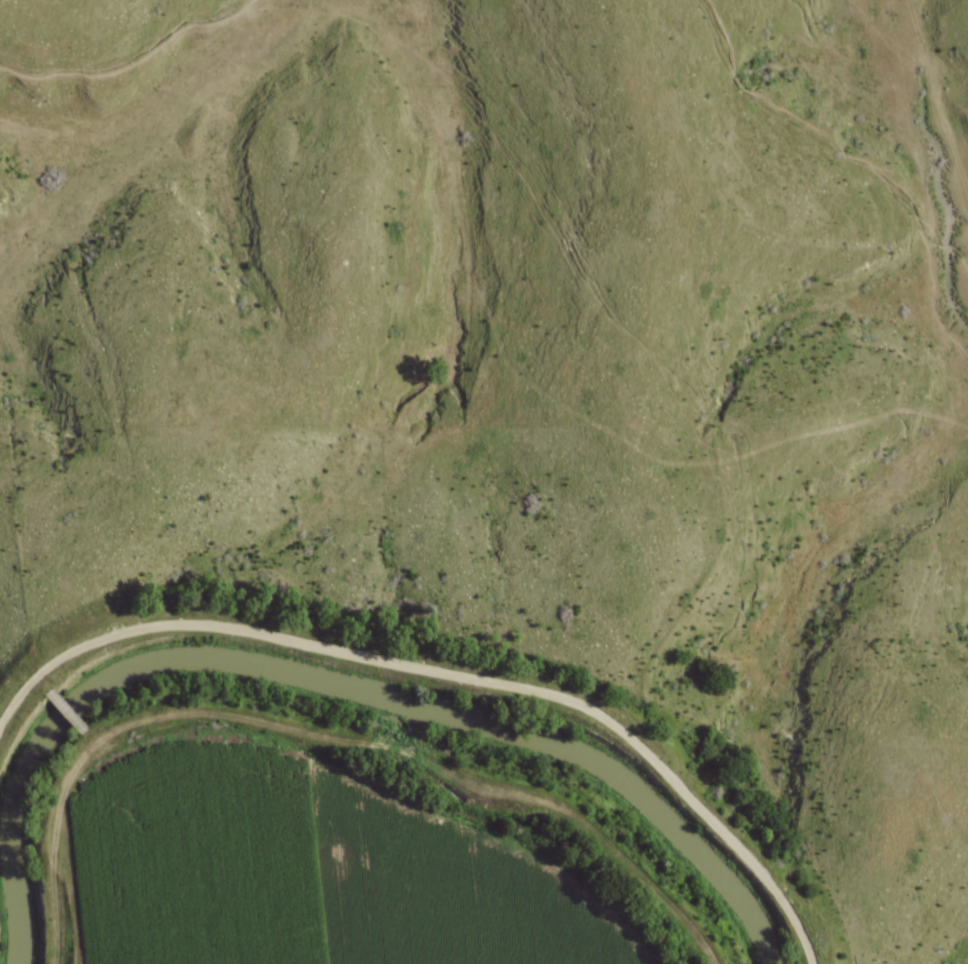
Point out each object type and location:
road: (448, 676)
crop: (307, 872)

